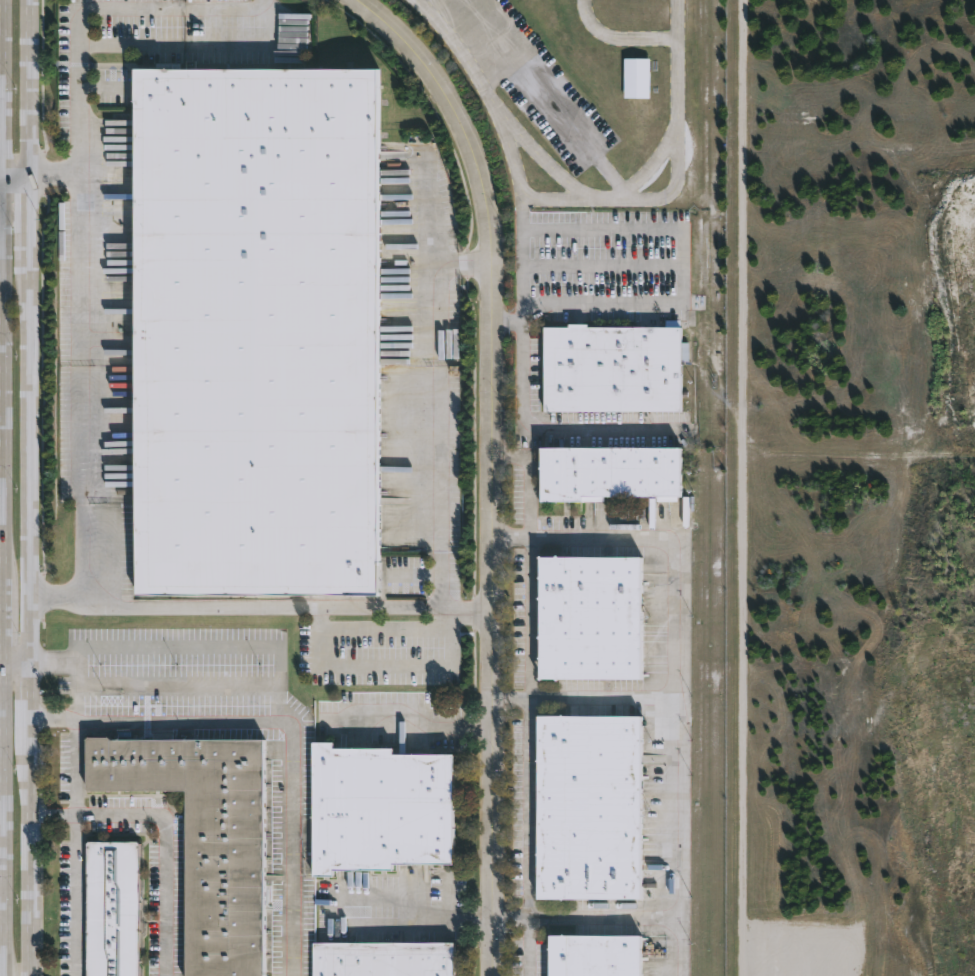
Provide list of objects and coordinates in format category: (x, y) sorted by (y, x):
road: (453, 17)
road: (77, 21)
road: (211, 46)
building: (636, 77)
road: (482, 90)
road: (5, 91)
road: (31, 91)
road: (538, 101)
road: (530, 147)
road: (647, 165)
road: (676, 173)
road: (3, 183)
road: (17, 183)
road: (522, 214)
road: (30, 220)
road: (556, 231)
road: (680, 282)
building: (252, 331)
building: (610, 368)
road: (7, 379)
road: (78, 383)
road: (439, 414)
road: (544, 429)
road: (30, 460)
road: (489, 465)
building: (608, 472)
road: (529, 473)
road: (3, 480)
airport: (854, 490)
road: (258, 608)
road: (528, 613)
road: (681, 616)
building: (588, 617)
road: (6, 619)
road: (283, 656)
road: (3, 662)
road: (17, 662)
road: (387, 667)
road: (27, 702)
road: (183, 715)
road: (52, 718)
road: (407, 719)
road: (527, 804)
road: (677, 806)
building: (589, 808)
building: (376, 810)
road: (5, 819)
building: (201, 838)
road: (165, 852)
road: (27, 859)
building: (110, 908)
road: (406, 911)
road: (612, 914)
road: (527, 944)
building: (593, 954)
building: (382, 958)

